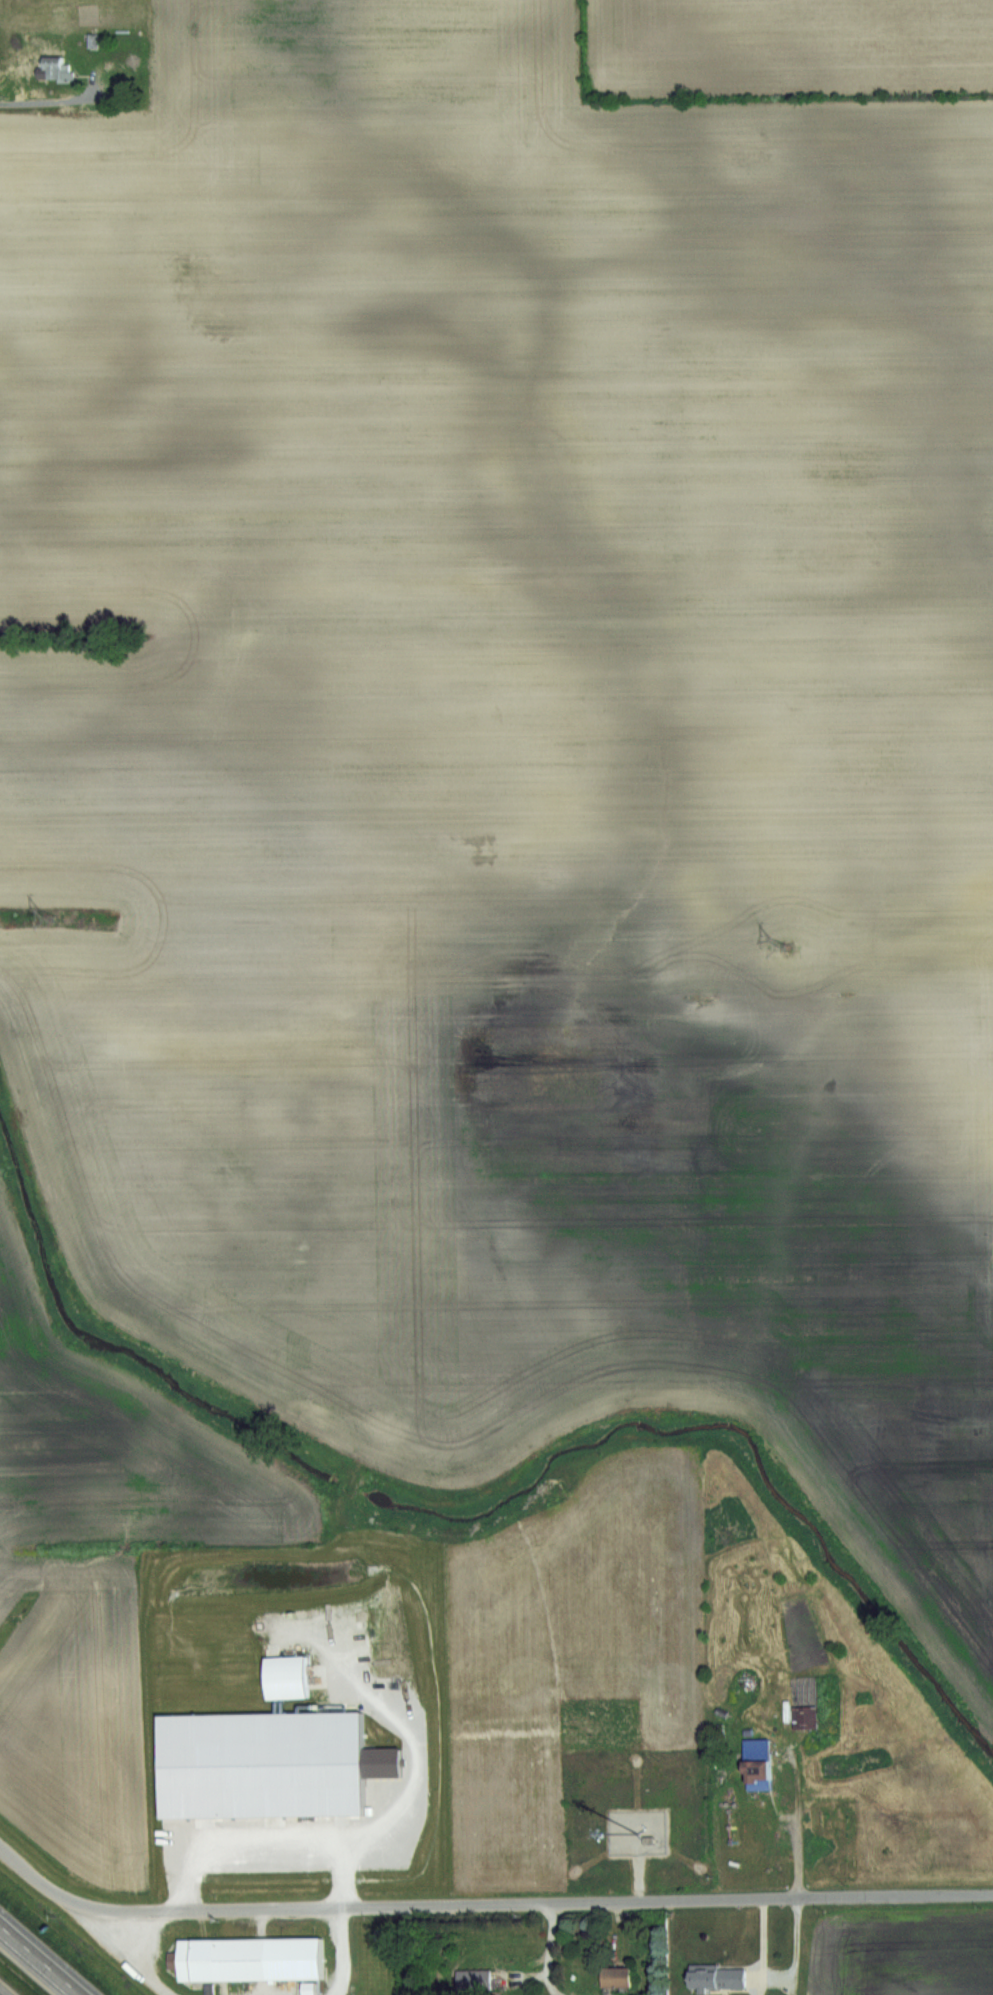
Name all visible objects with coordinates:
building: (57, 67)
road: (31, 80)
building: (286, 1677)
building: (804, 1718)
road: (401, 1764)
building: (756, 1764)
road: (799, 1826)
road: (264, 1854)
road: (486, 1904)
building: (250, 1959)
road: (39, 1960)
building: (615, 1976)
building: (716, 1976)
building: (472, 1978)
road: (1, 1993)

